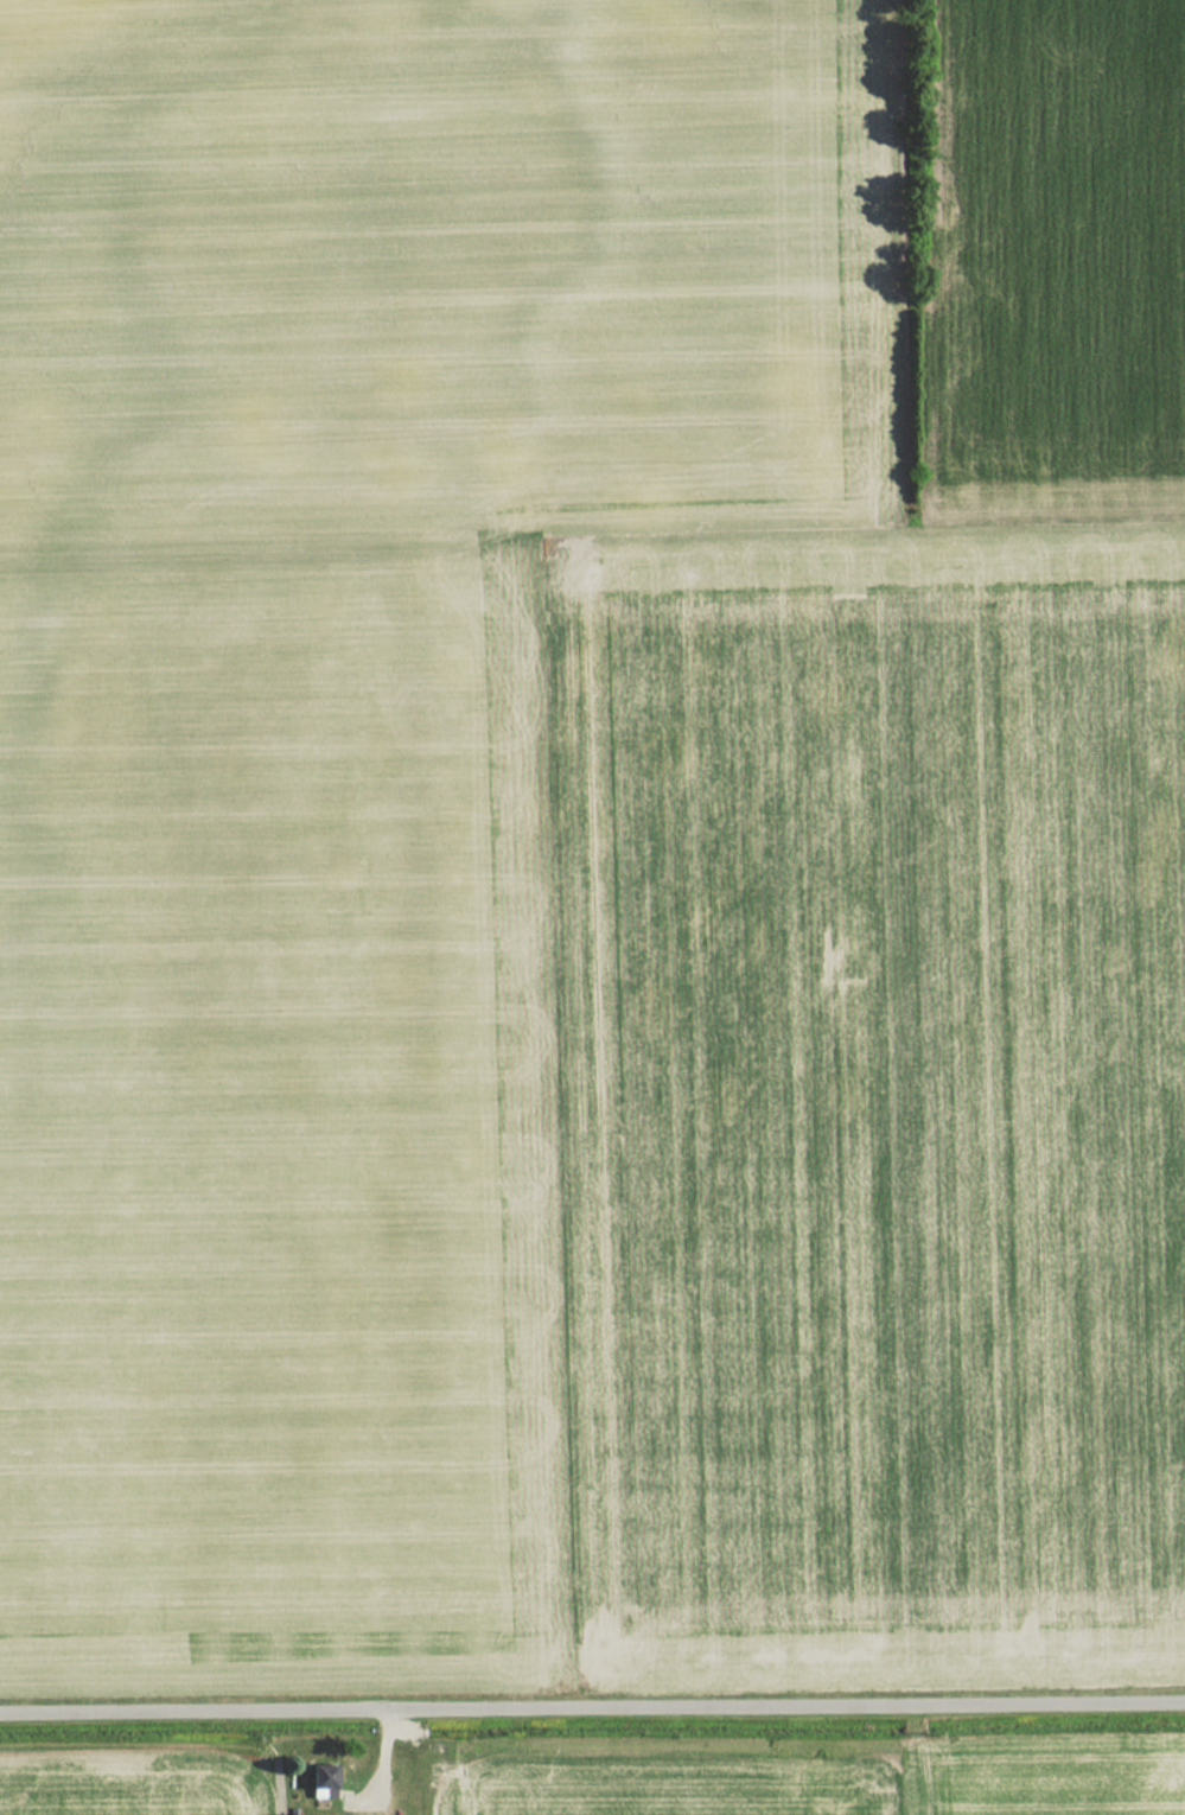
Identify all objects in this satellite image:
crop: (350, 754)
crop: (900, 963)
road: (592, 1708)
crop: (1045, 1781)
crop: (702, 1782)
crop: (138, 1794)

